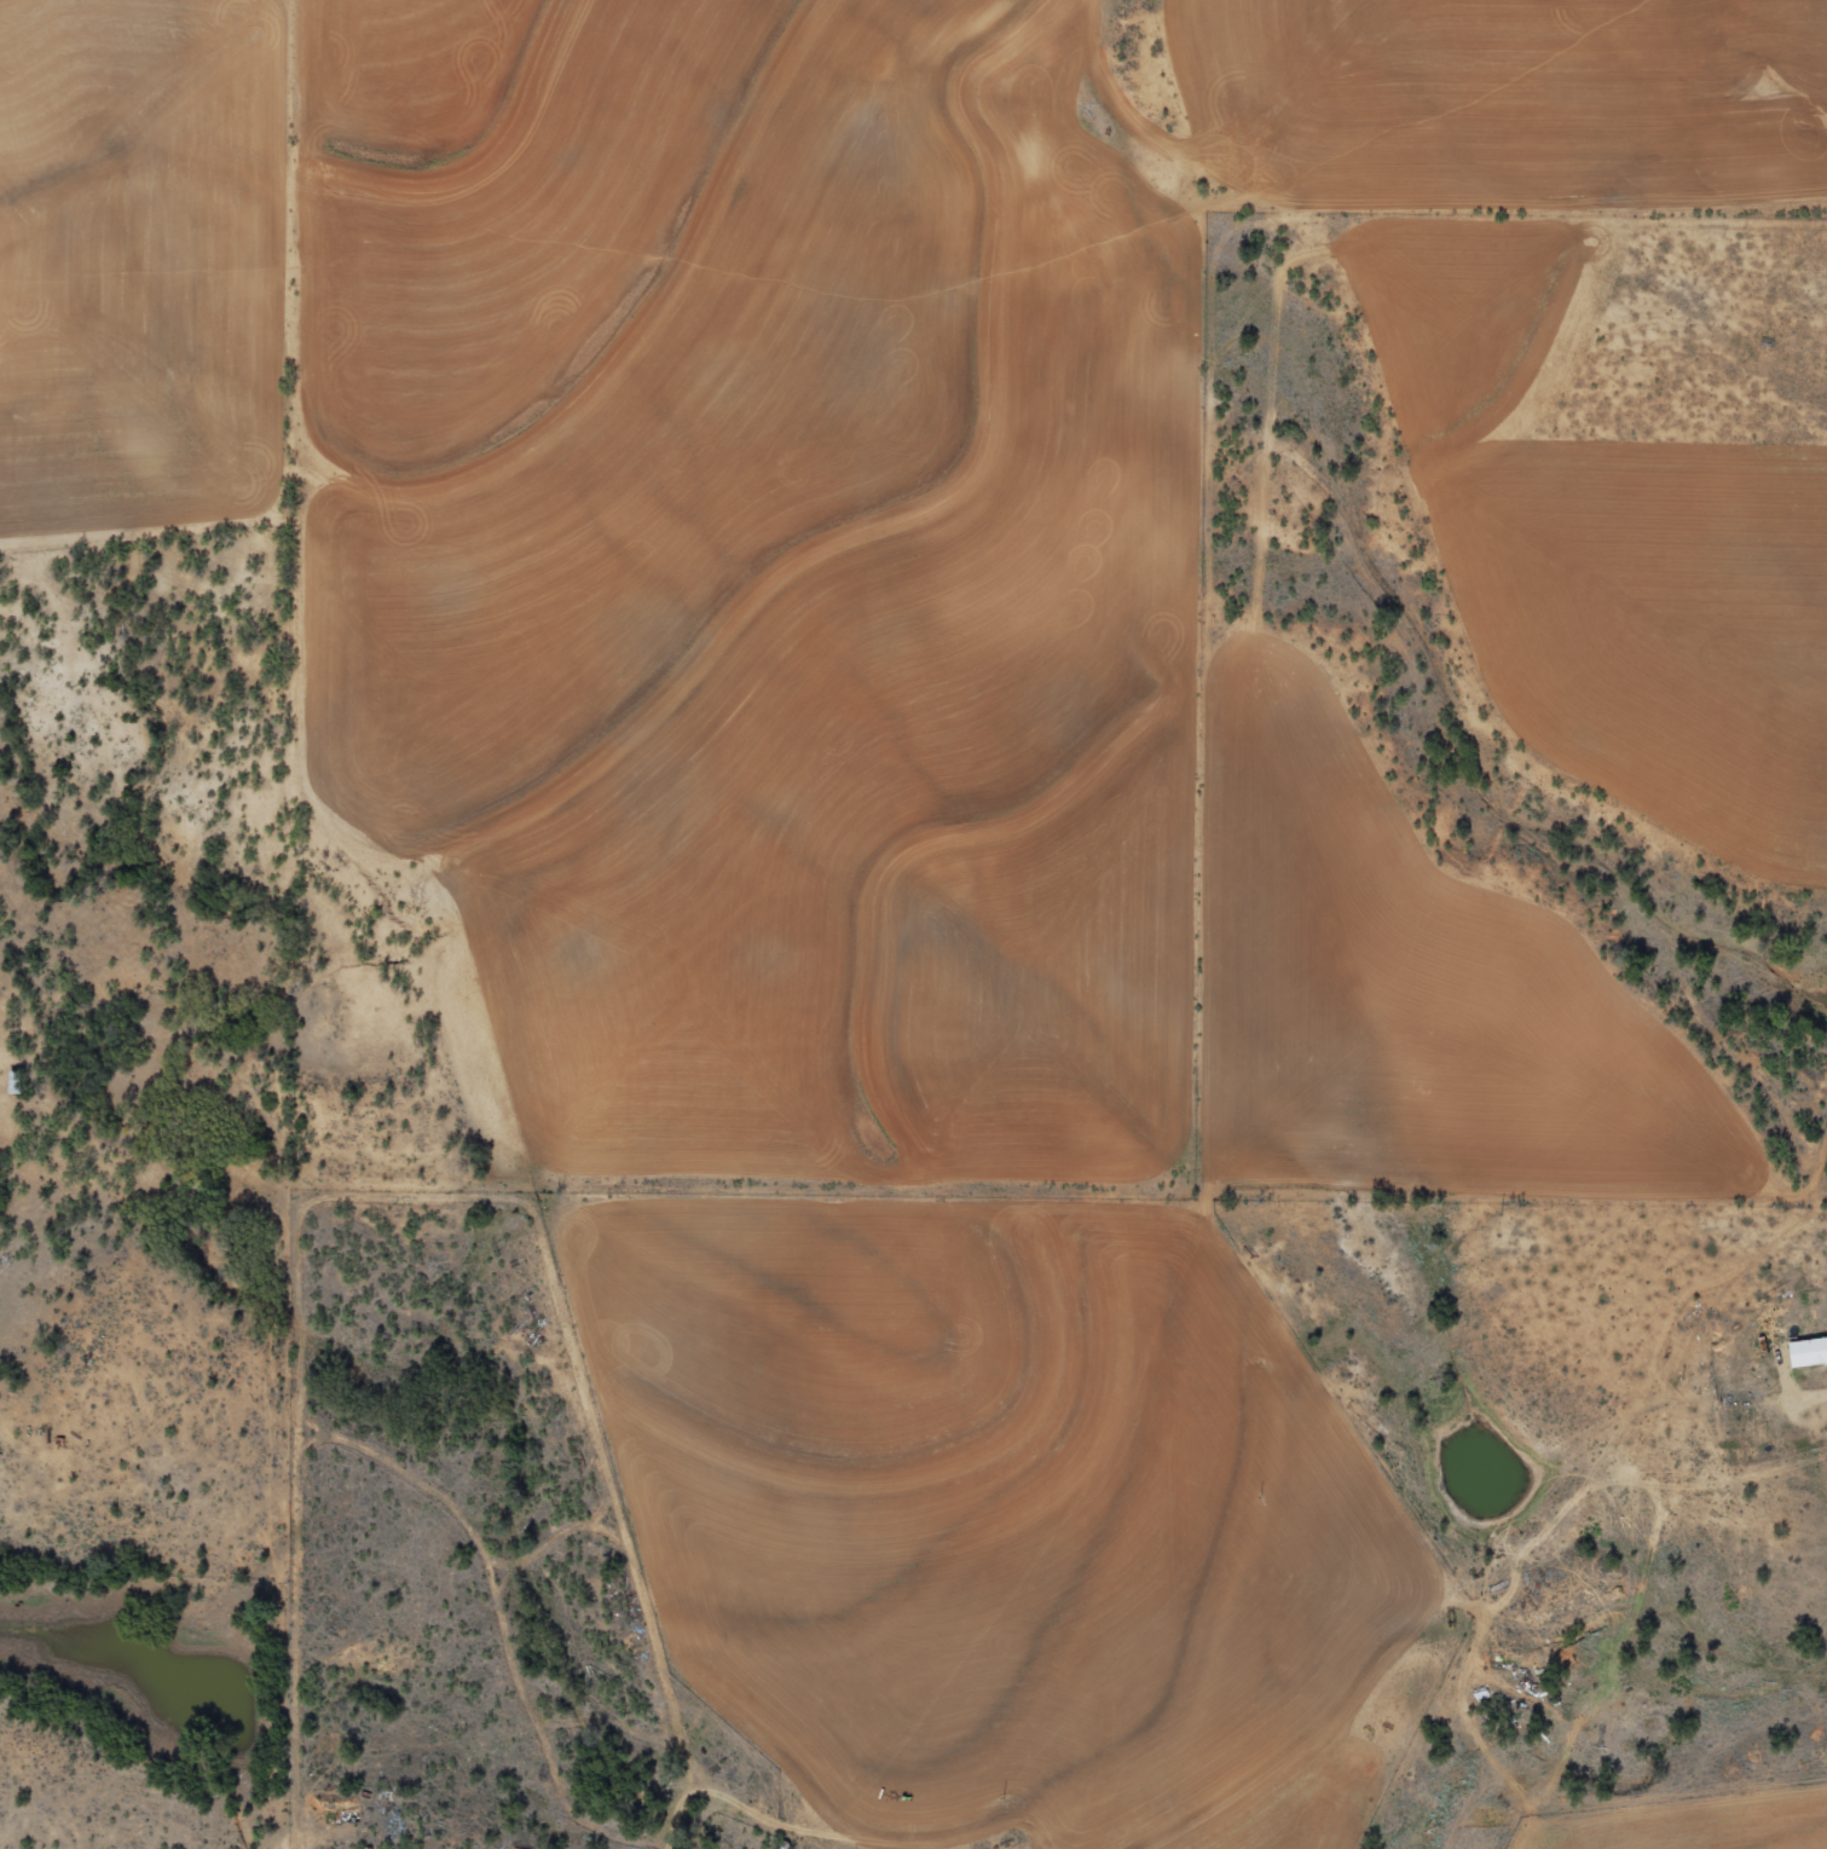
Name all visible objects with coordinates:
building: (19, 1082)
building: (1810, 1351)
road: (1719, 1480)
building: (347, 1837)

